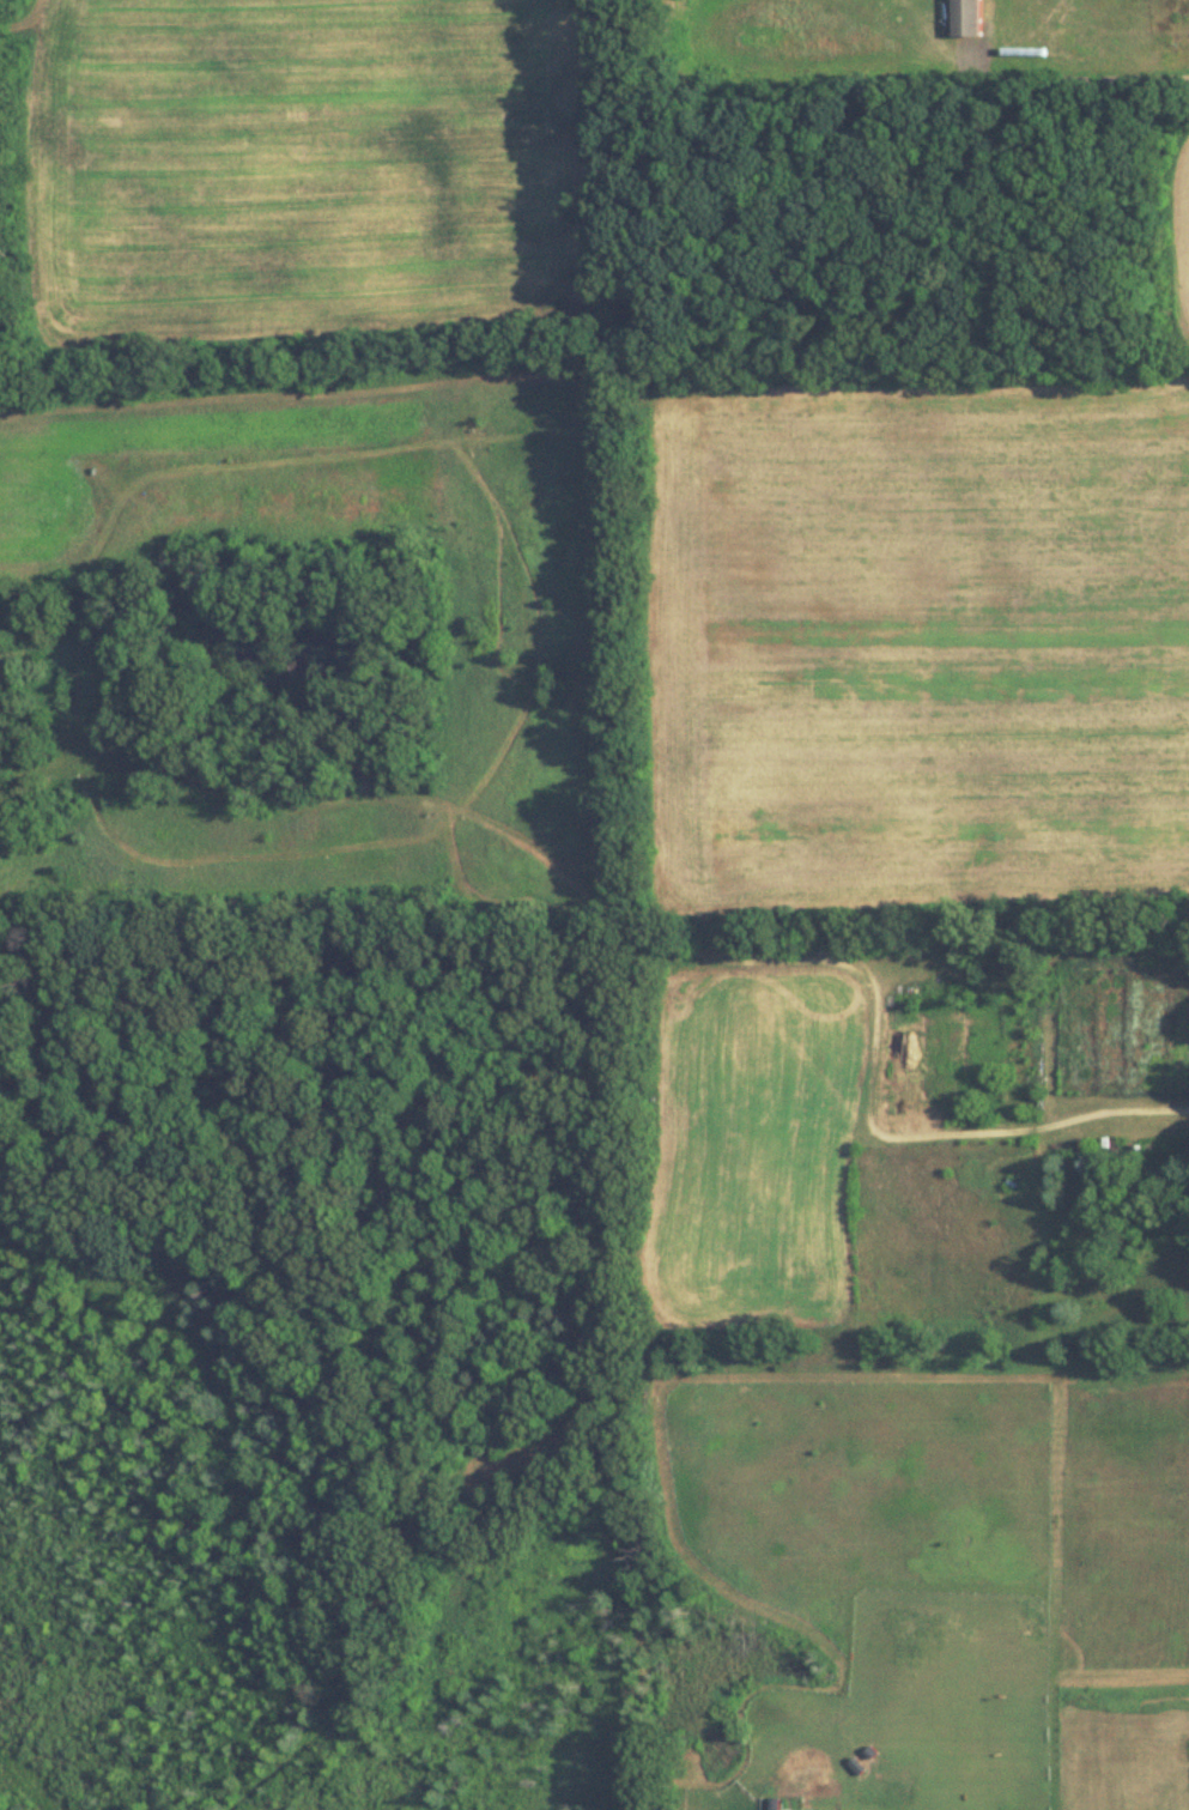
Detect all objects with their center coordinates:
building: (966, 18)
road: (1079, 83)

